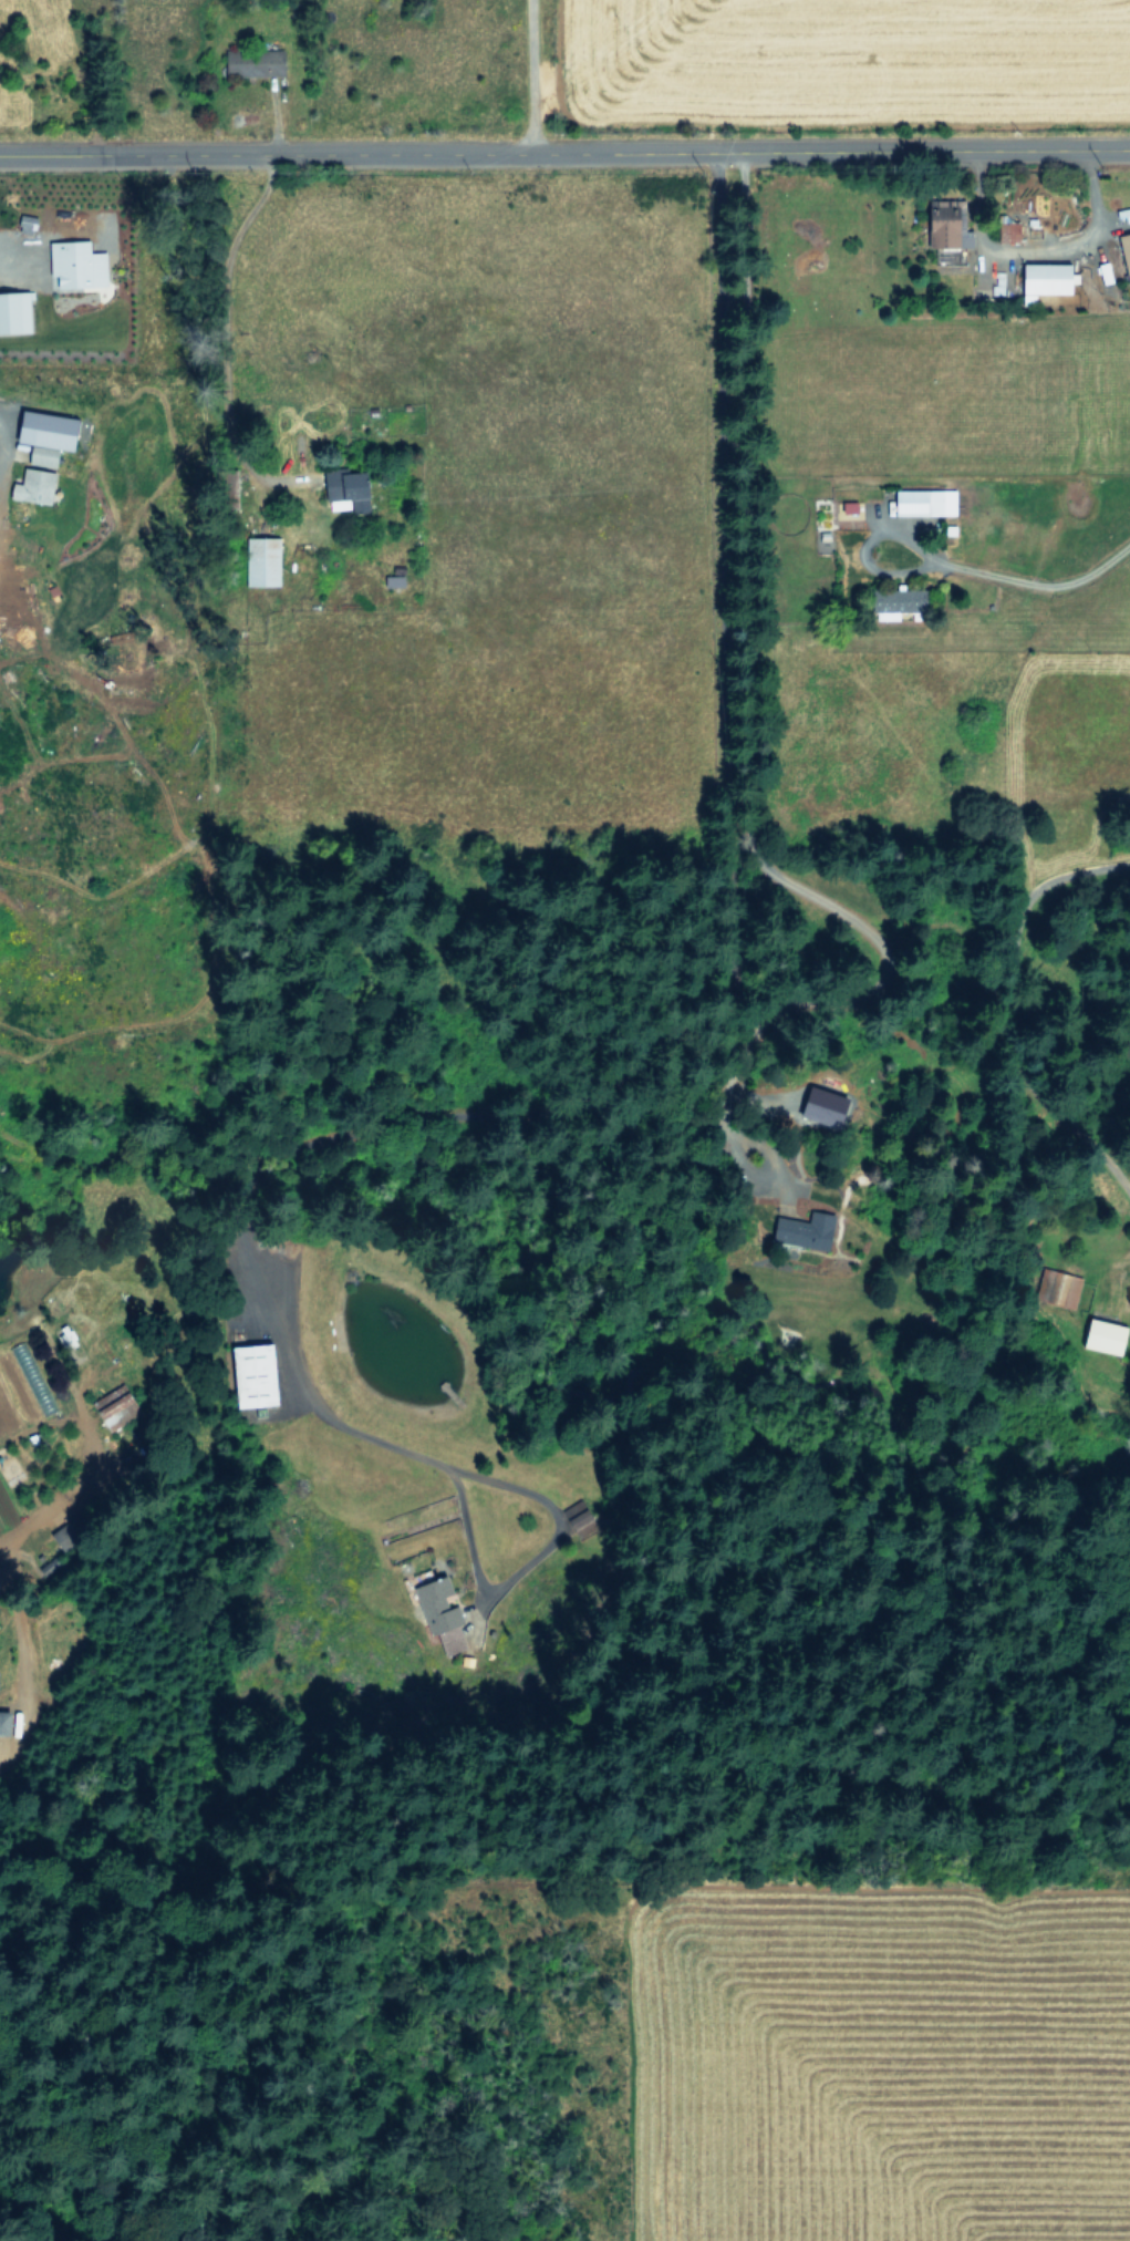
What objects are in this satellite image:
crop: (548, 51)
building: (257, 62)
road: (528, 75)
road: (564, 152)
building: (943, 225)
building: (1005, 231)
road: (1034, 246)
building: (1123, 254)
road: (19, 259)
building: (79, 262)
building: (1102, 271)
building: (1040, 278)
building: (17, 310)
road: (221, 332)
building: (53, 428)
building: (46, 455)
building: (37, 485)
building: (351, 489)
building: (921, 500)
road: (864, 555)
building: (266, 560)
road: (1043, 591)
building: (899, 600)
road: (746, 808)
road: (1015, 1018)
road: (523, 1113)
building: (799, 1230)
building: (1099, 1335)
building: (252, 1374)
building: (118, 1405)
road: (83, 1488)
building: (444, 1613)
road: (20, 1679)
building: (8, 1721)

